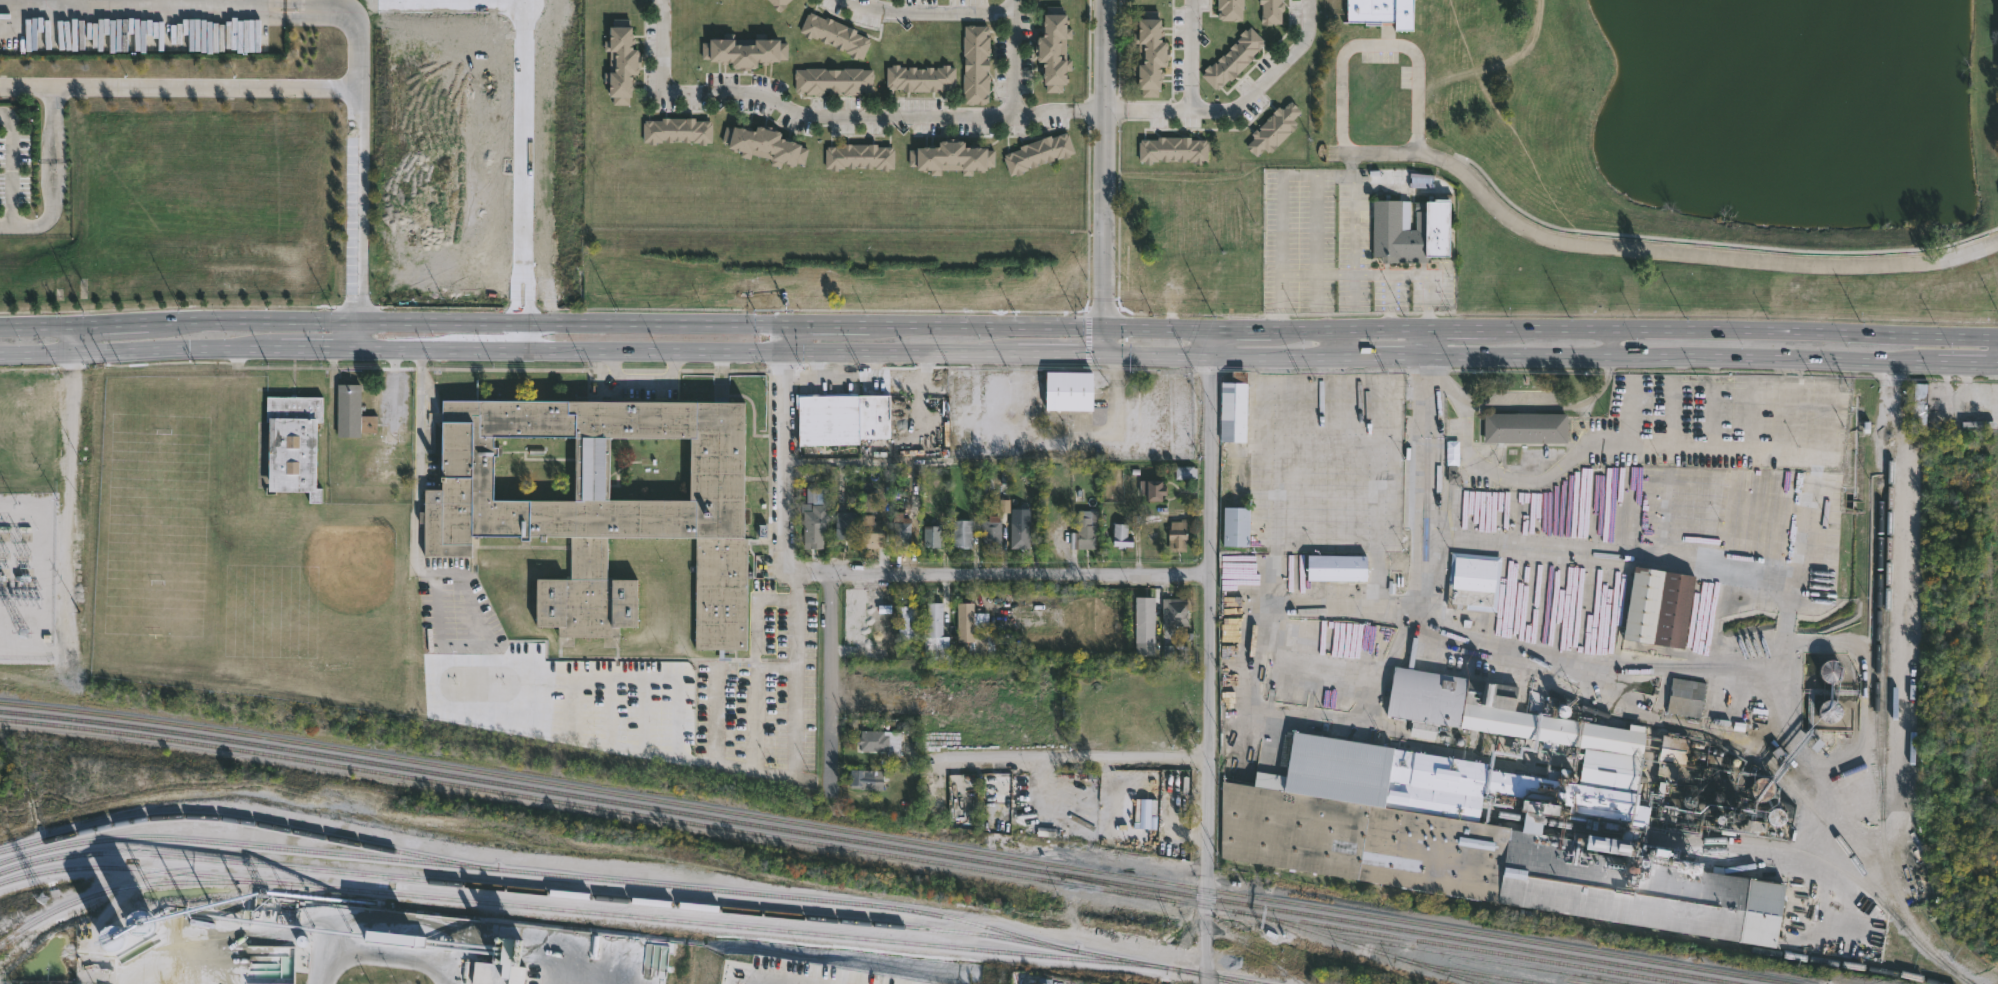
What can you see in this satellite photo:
building: (778, 4)
building: (1229, 9)
road: (929, 12)
building: (1270, 12)
building: (1382, 13)
building: (834, 35)
road: (663, 45)
road: (1380, 46)
building: (1053, 49)
building: (747, 50)
building: (1149, 55)
road: (1012, 58)
building: (1234, 60)
building: (620, 61)
building: (975, 64)
building: (919, 79)
building: (832, 81)
road: (181, 88)
road: (736, 92)
road: (1058, 109)
road: (1147, 110)
road: (1226, 110)
road: (909, 116)
road: (362, 123)
building: (1273, 130)
building: (676, 131)
building: (766, 143)
park: (1684, 147)
building: (1172, 149)
building: (1037, 153)
building: (858, 157)
building: (950, 159)
road: (1104, 162)
road: (52, 177)
road: (1354, 204)
road: (1280, 205)
building: (1411, 230)
road: (1316, 241)
parking lot: (1336, 249)
road: (1650, 249)
road: (1355, 273)
road: (1354, 291)
road: (1389, 300)
road: (391, 318)
road: (944, 323)
road: (1551, 330)
road: (783, 334)
road: (1104, 337)
road: (1338, 341)
road: (1425, 342)
road: (391, 343)
road: (1610, 343)
road: (943, 348)
road: (1110, 350)
road: (1557, 355)
road: (645, 381)
building: (1068, 390)
building: (1923, 401)
building: (118, 403)
road: (1525, 406)
building: (1233, 407)
building: (353, 412)
building: (840, 418)
road: (418, 421)
building: (1525, 426)
building: (110, 433)
road: (1070, 441)
building: (292, 444)
road: (1667, 447)
building: (198, 449)
road: (784, 460)
building: (1524, 462)
road: (71, 487)
building: (1152, 489)
building: (163, 503)
building: (602, 506)
building: (183, 508)
building: (109, 511)
building: (813, 523)
building: (845, 525)
building: (1236, 526)
building: (900, 529)
building: (871, 530)
building: (990, 532)
building: (1086, 532)
building: (961, 533)
building: (1020, 533)
road: (1417, 533)
building: (931, 535)
building: (1121, 536)
building: (1177, 536)
building: (1336, 567)
power substation: (27, 574)
road: (997, 576)
building: (1473, 581)
park: (314, 601)
building: (1644, 604)
building: (1674, 609)
building: (1174, 611)
building: (1143, 619)
building: (884, 620)
building: (933, 620)
road: (1789, 621)
building: (907, 624)
building: (971, 629)
railway: (1876, 651)
road: (1211, 656)
building: (1829, 670)
building: (712, 677)
road: (831, 689)
building: (712, 697)
building: (1686, 697)
building: (1426, 700)
park: (621, 705)
building: (744, 708)
railway: (2, 710)
building: (1829, 710)
building: (712, 719)
railway: (1883, 724)
railway: (12, 735)
building: (1559, 735)
building: (712, 739)
building: (743, 739)
building: (879, 741)
building: (1670, 750)
road: (1075, 757)
road: (771, 773)
building: (864, 780)
railway: (1787, 783)
railway: (664, 817)
building: (115, 833)
railway: (899, 838)
railway: (1696, 840)
building: (1476, 841)
railway: (875, 843)
railway: (295, 845)
building: (1608, 846)
railway: (103, 864)
railway: (636, 879)
railway: (1114, 885)
railway: (83, 887)
power tower: (42, 901)
railway: (712, 902)
railway: (1373, 931)
railway: (1721, 944)
railway: (1370, 947)
road: (383, 958)
railway: (1116, 963)
railway: (1481, 972)
railway: (1488, 981)

